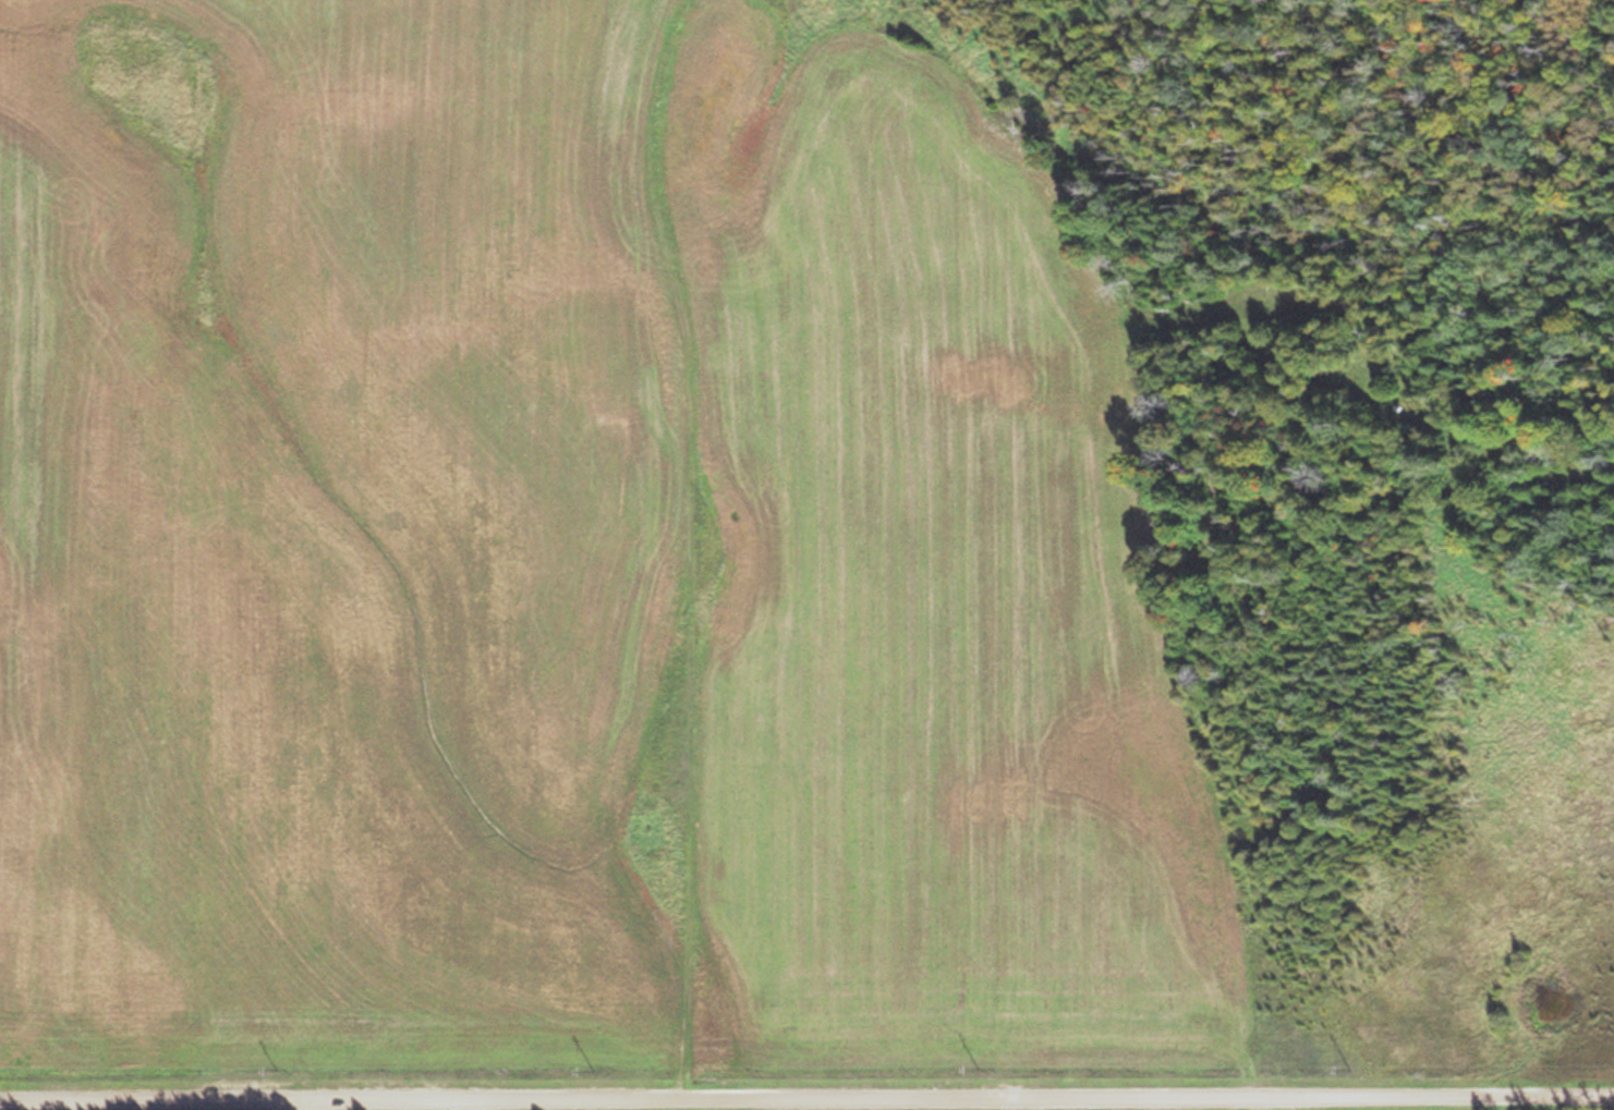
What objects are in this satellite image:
road: (688, 551)
road: (24, 1109)
road: (1565, 1109)

